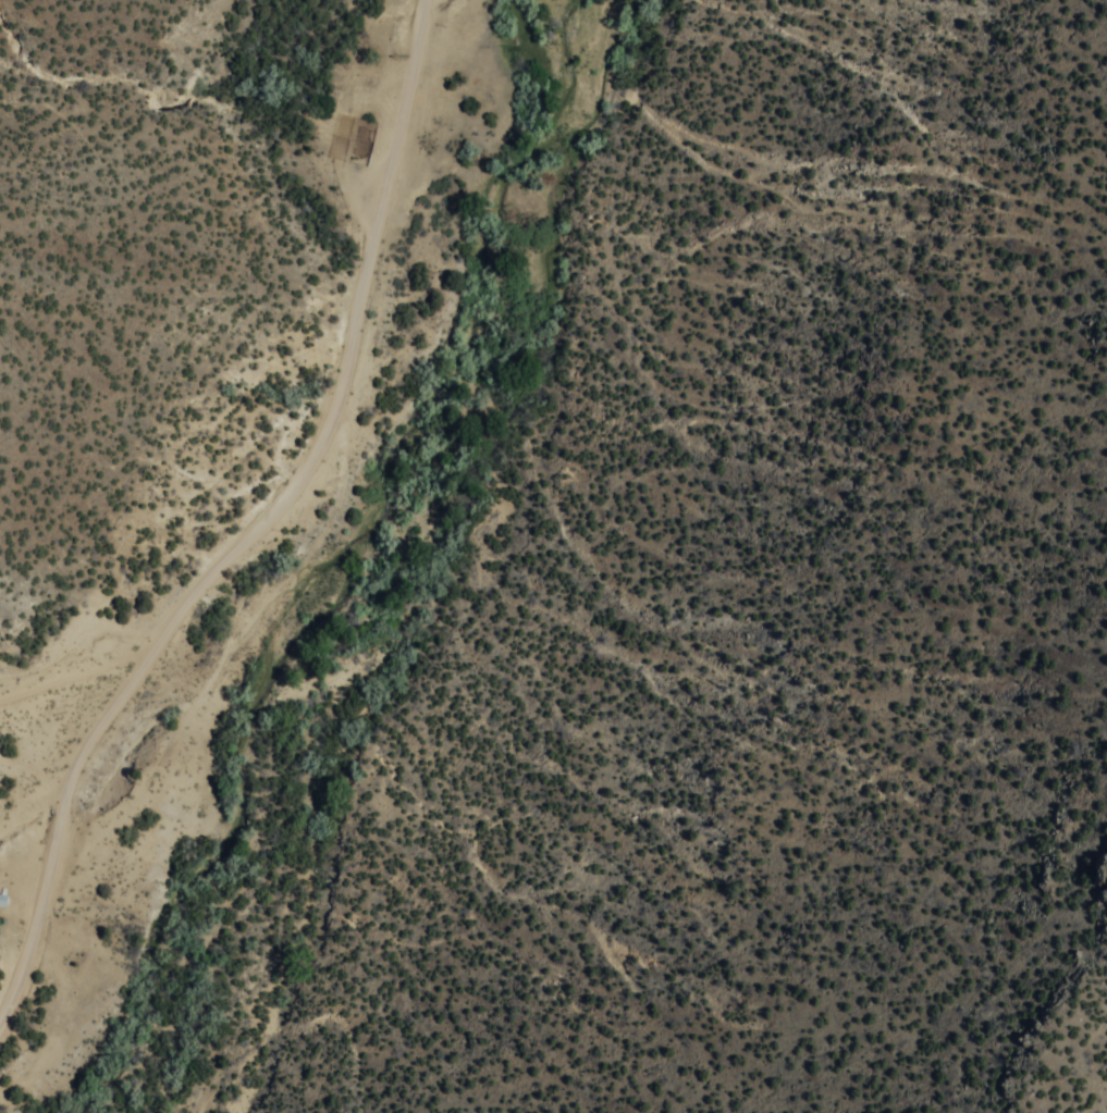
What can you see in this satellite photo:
road: (254, 532)
building: (3, 902)

